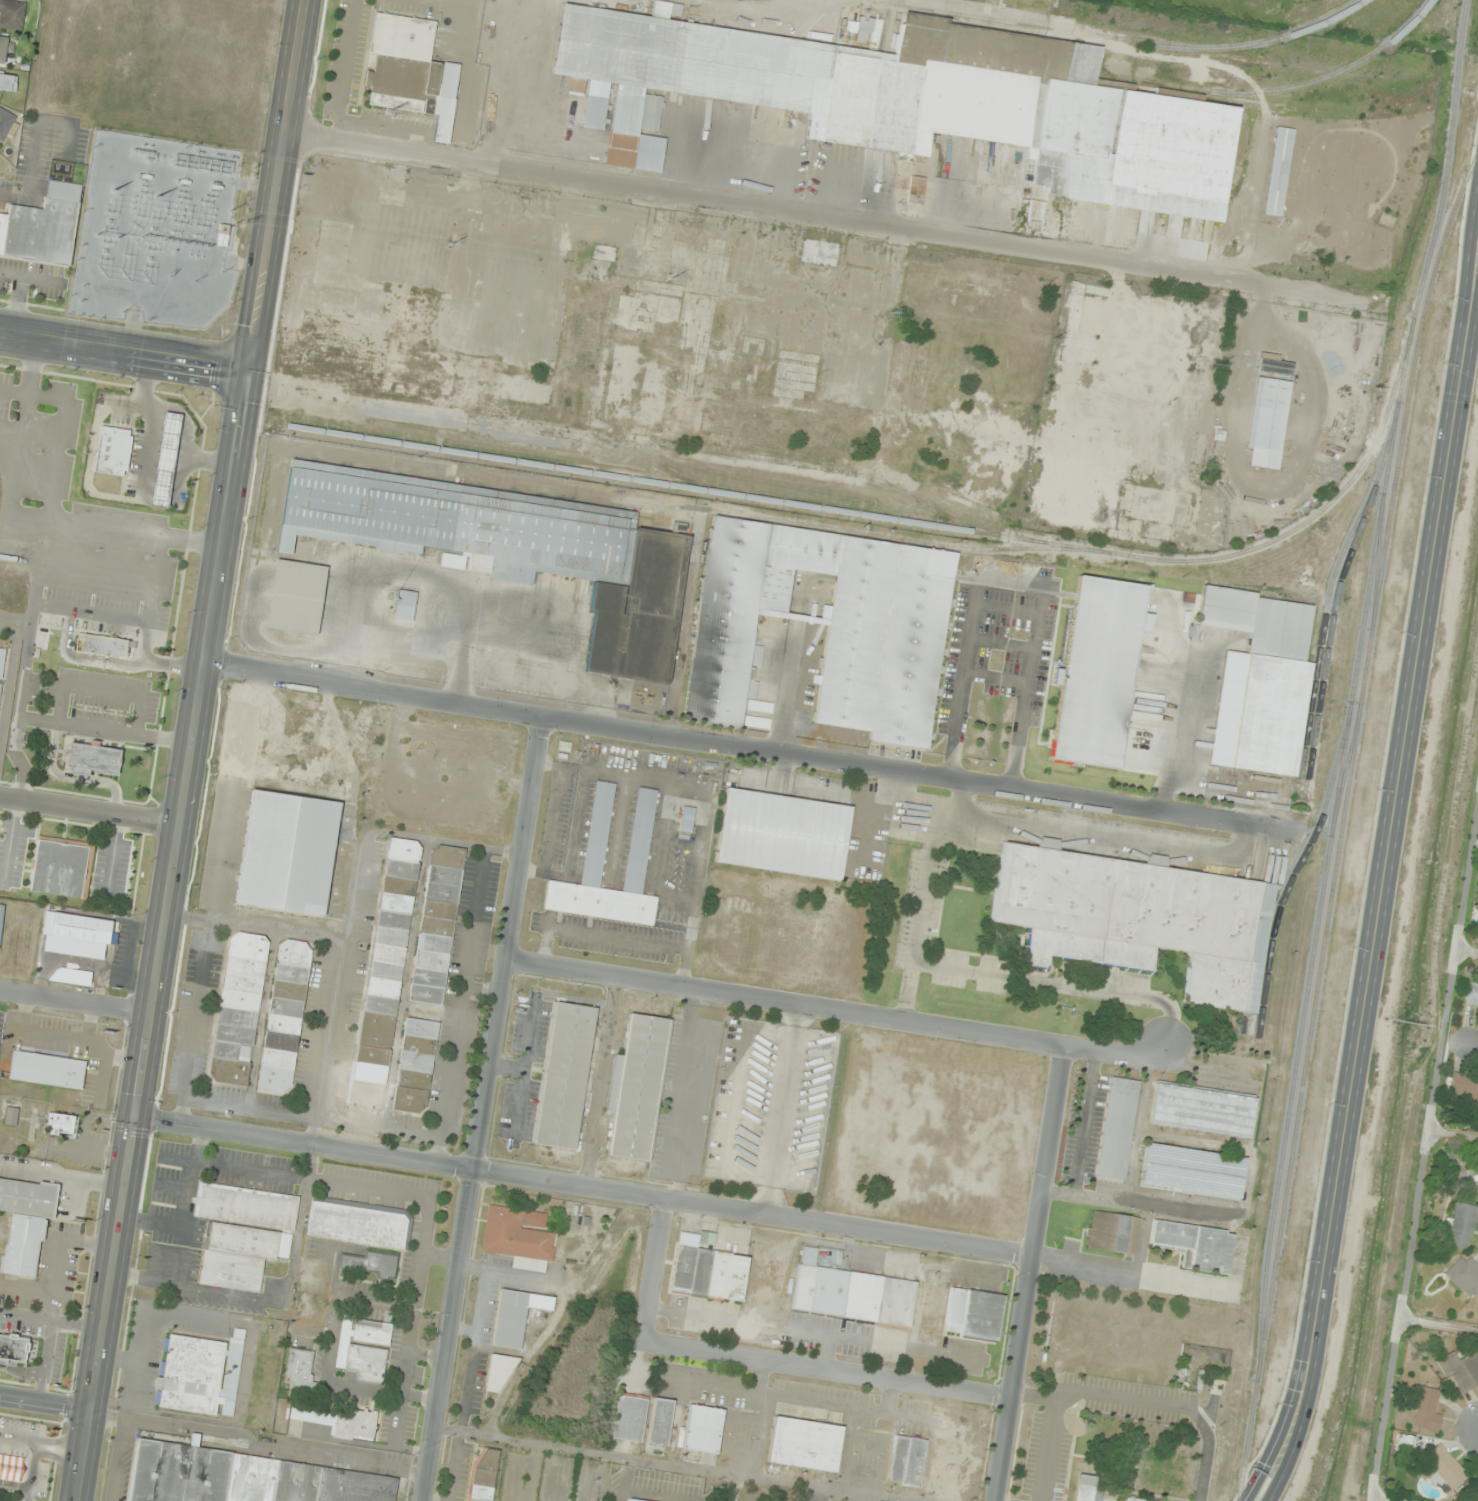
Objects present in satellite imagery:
building: (11, 14)
railway: (1118, 37)
building: (5, 50)
building: (411, 71)
building: (8, 81)
railway: (1276, 92)
building: (914, 100)
building: (5, 122)
building: (1278, 171)
building: (915, 190)
road: (826, 214)
building: (42, 225)
power substation: (154, 231)
building: (223, 235)
building: (820, 252)
railway: (1428, 253)
building: (1092, 289)
building: (1076, 334)
road: (126, 351)
traffic signals: (253, 371)
building: (567, 373)
building: (1123, 373)
building: (907, 375)
building: (1123, 397)
building: (1173, 402)
building: (1079, 410)
building: (1267, 422)
building: (1199, 447)
building: (113, 450)
building: (165, 460)
building: (1159, 505)
building: (1001, 507)
building: (1220, 523)
railway: (1264, 543)
building: (513, 549)
building: (296, 597)
railway: (1333, 600)
building: (405, 605)
road: (90, 612)
building: (100, 645)
railway: (1317, 646)
road: (142, 656)
road: (82, 658)
building: (2, 661)
building: (881, 669)
building: (1260, 681)
building: (0, 686)
building: (760, 706)
building: (757, 722)
road: (751, 749)
road: (190, 750)
building: (94, 758)
road: (89, 811)
building: (686, 818)
railway: (1340, 819)
building: (783, 834)
building: (640, 835)
building: (287, 852)
building: (62, 867)
road: (1383, 876)
building: (1139, 918)
building: (437, 925)
building: (79, 928)
building: (389, 952)
building: (1471, 993)
road: (76, 1002)
building: (238, 1009)
road: (840, 1012)
building: (285, 1016)
road: (1475, 1045)
building: (47, 1069)
building: (414, 1074)
building: (565, 1075)
building: (1463, 1086)
building: (636, 1087)
road: (485, 1110)
building: (1202, 1110)
building: (11, 1116)
building: (61, 1124)
building: (1117, 1128)
building: (1192, 1170)
building: (1477, 1189)
road: (636, 1194)
building: (246, 1206)
building: (26, 1221)
building: (360, 1223)
building: (1461, 1225)
building: (1112, 1232)
building: (519, 1236)
building: (1195, 1245)
building: (241, 1255)
building: (372, 1263)
road: (659, 1269)
building: (707, 1269)
road: (1031, 1274)
building: (1464, 1276)
building: (853, 1296)
building: (973, 1314)
building: (516, 1316)
road: (52, 1320)
building: (12, 1348)
building: (364, 1348)
road: (45, 1361)
road: (830, 1367)
building: (1461, 1370)
road: (21, 1371)
building: (300, 1373)
building: (498, 1373)
building: (200, 1374)
road: (1117, 1394)
road: (1034, 1399)
road: (46, 1403)
building: (1425, 1408)
building: (629, 1417)
building: (659, 1421)
building: (342, 1422)
building: (702, 1429)
road: (43, 1443)
building: (804, 1444)
building: (906, 1460)
road: (670, 1464)
building: (10, 1467)
building: (1442, 1467)
road: (30, 1471)
building: (483, 1474)
building: (242, 1477)
building: (1086, 1484)
road: (14, 1487)
building: (1132, 1499)
building: (632, 1500)

